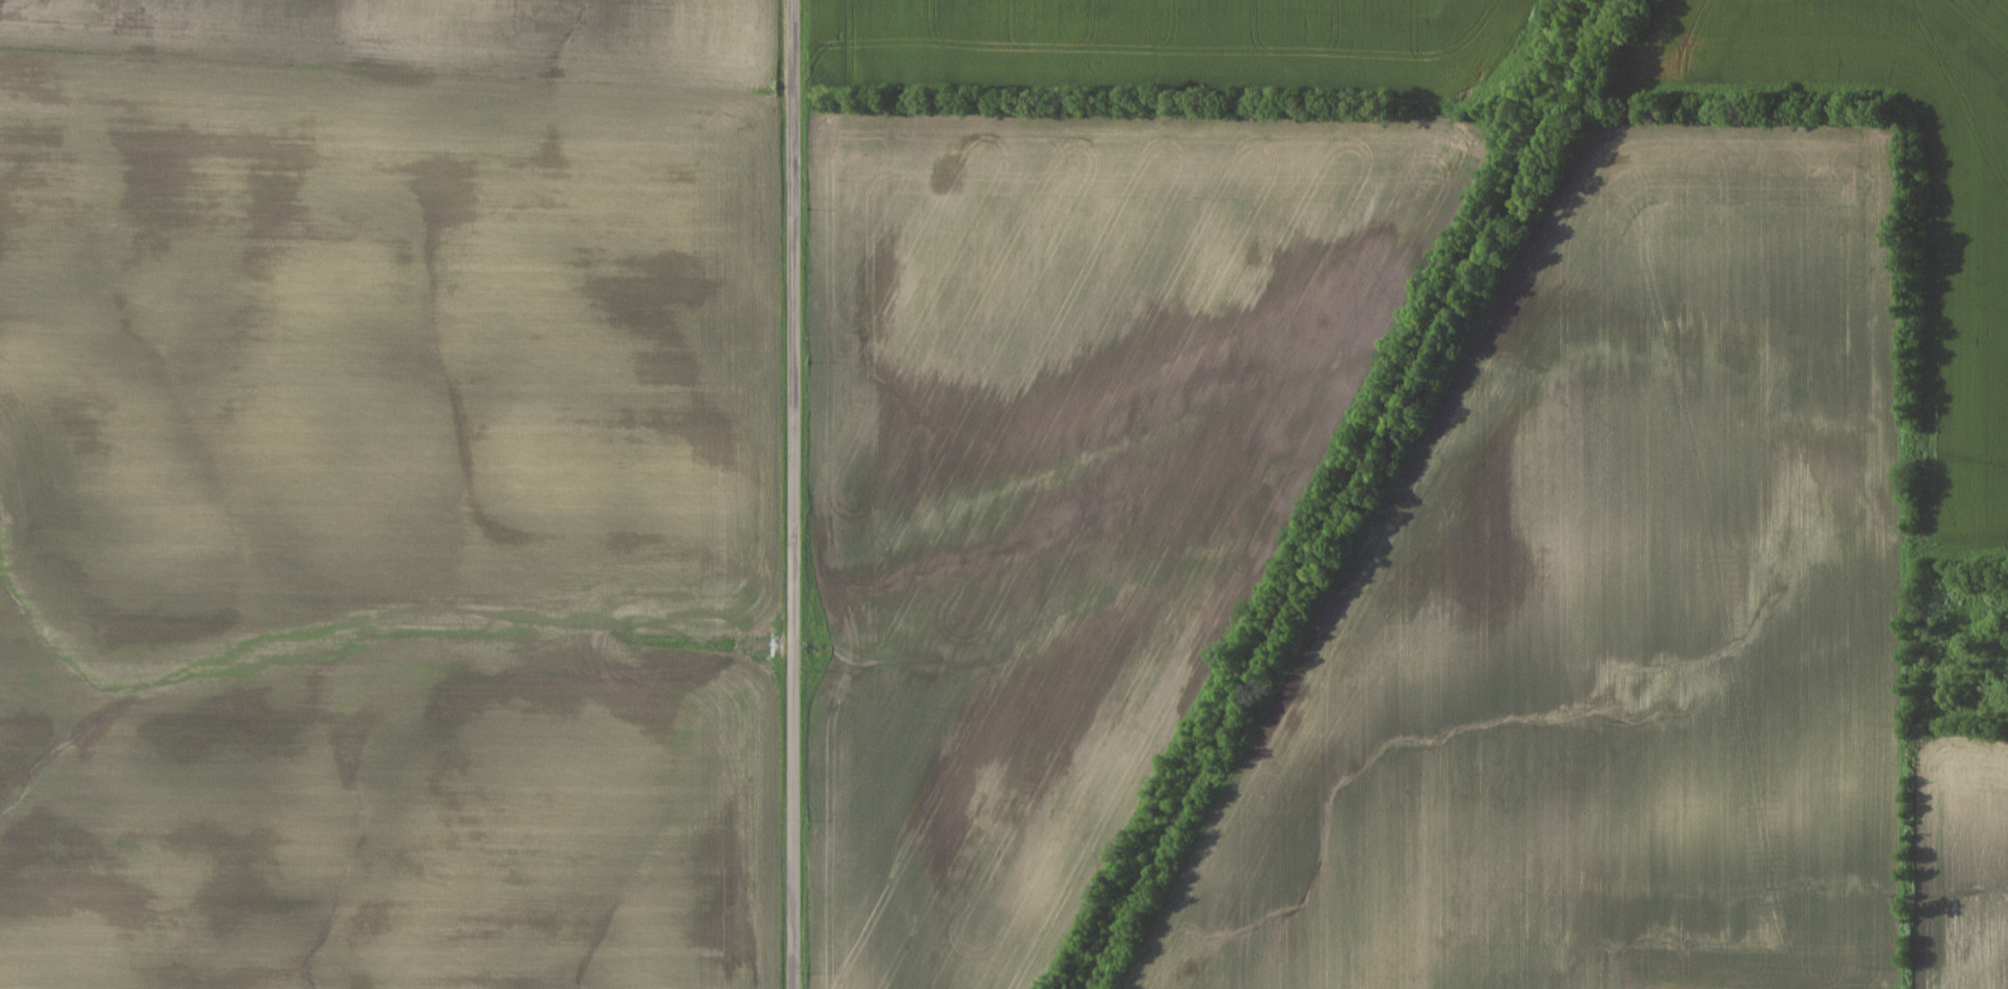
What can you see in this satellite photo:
road: (794, 494)

